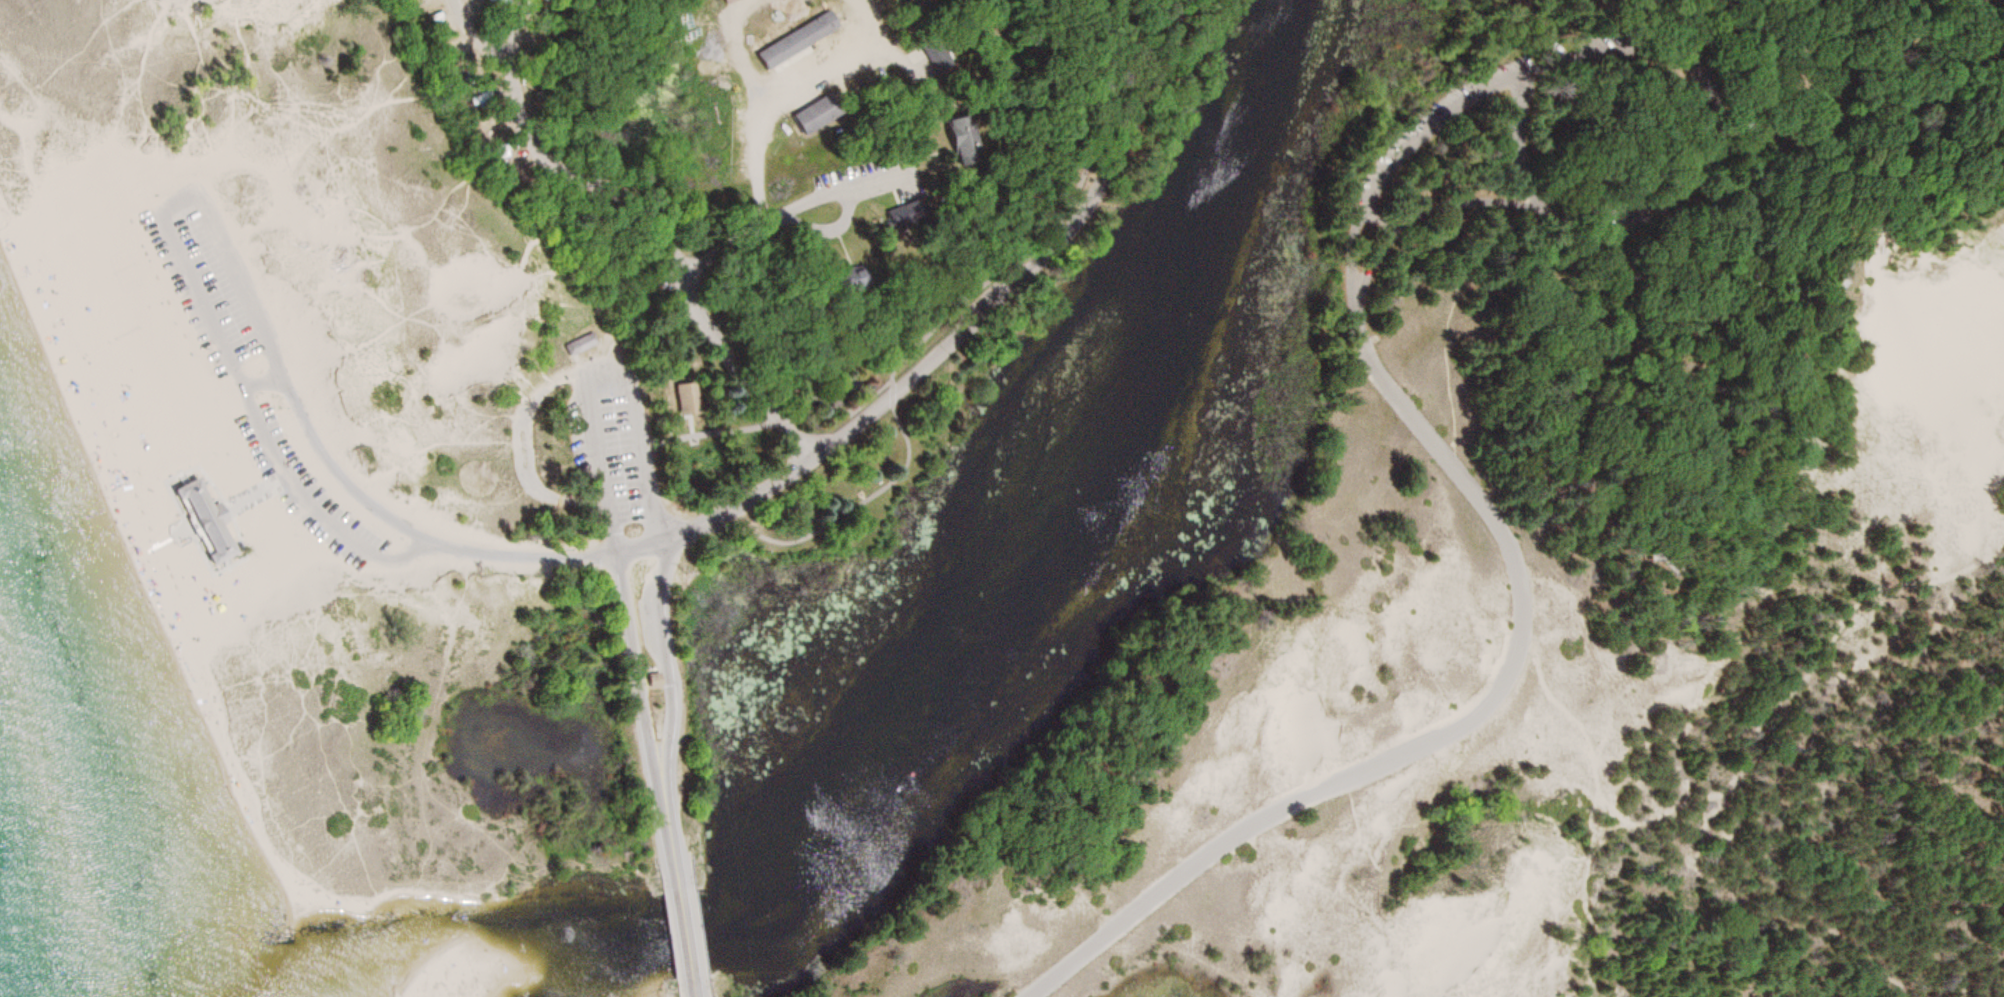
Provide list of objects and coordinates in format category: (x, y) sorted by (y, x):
building: (800, 40)
road: (504, 52)
building: (820, 113)
road: (1793, 124)
road: (1770, 131)
building: (966, 140)
road: (1738, 145)
road: (1701, 170)
road: (605, 182)
road: (1434, 209)
road: (793, 210)
road: (1379, 217)
road: (1754, 240)
road: (231, 259)
parking lot: (210, 275)
road: (949, 314)
road: (979, 315)
building: (583, 343)
road: (675, 347)
road: (265, 381)
road: (755, 387)
building: (690, 398)
road: (780, 417)
road: (638, 425)
road: (595, 434)
parking lot: (618, 439)
parking lot: (301, 481)
park: (1029, 488)
building: (204, 519)
road: (614, 531)
road: (1689, 550)
road: (1527, 594)
road: (664, 657)
road: (1801, 686)
river: (914, 694)
road: (1566, 700)
road: (667, 835)
road: (1603, 929)
road: (685, 937)
road: (1860, 985)
road: (693, 990)

